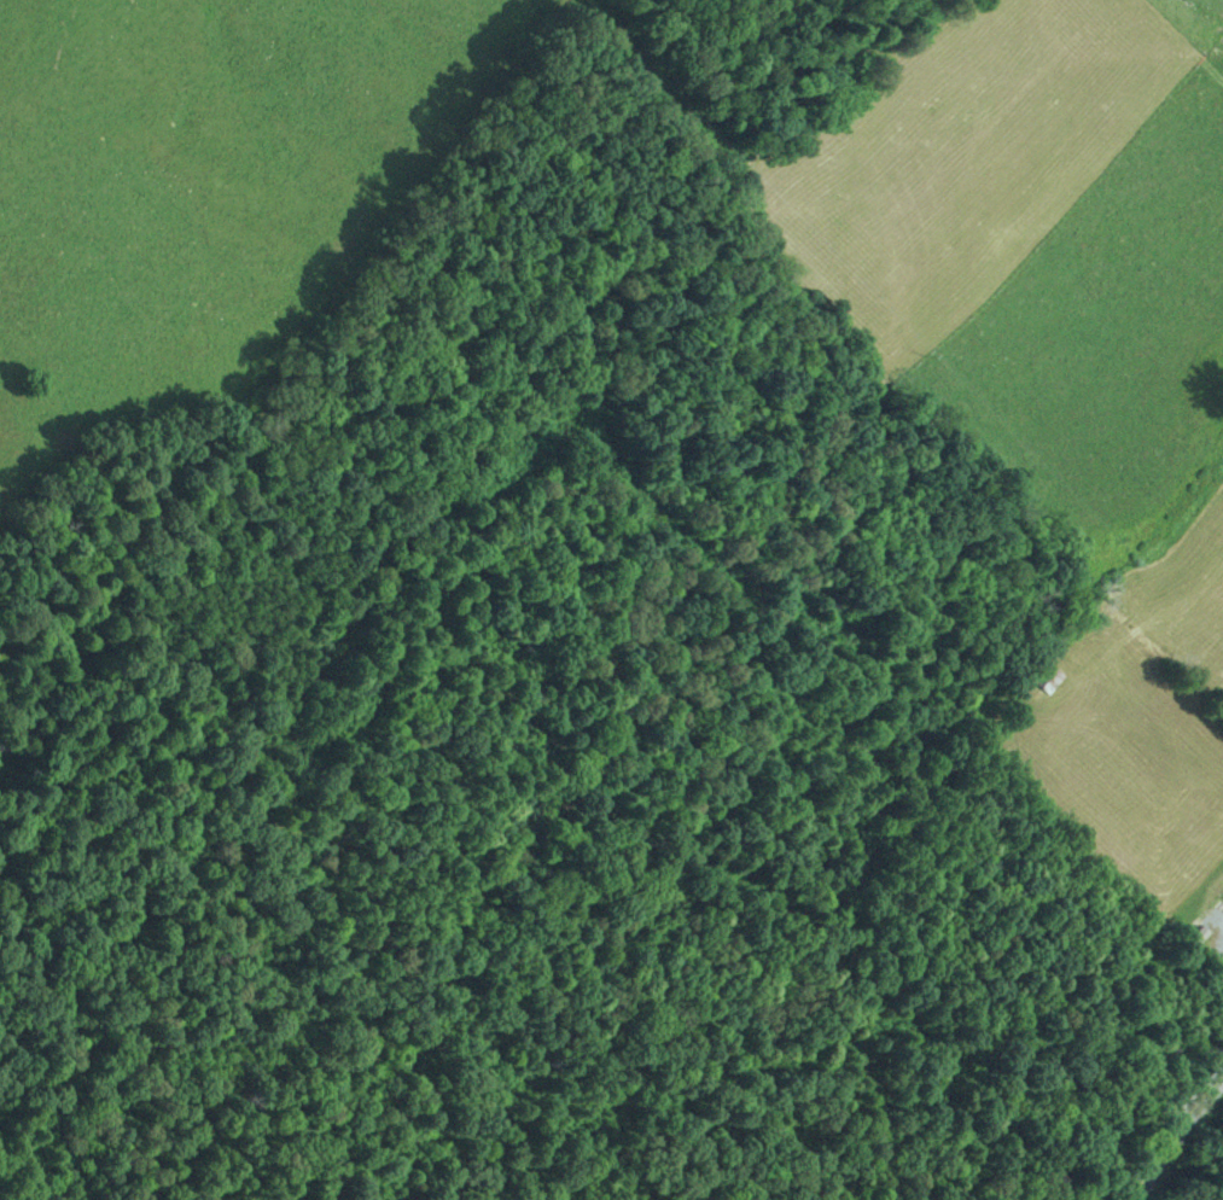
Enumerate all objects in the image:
road: (1172, 1131)

